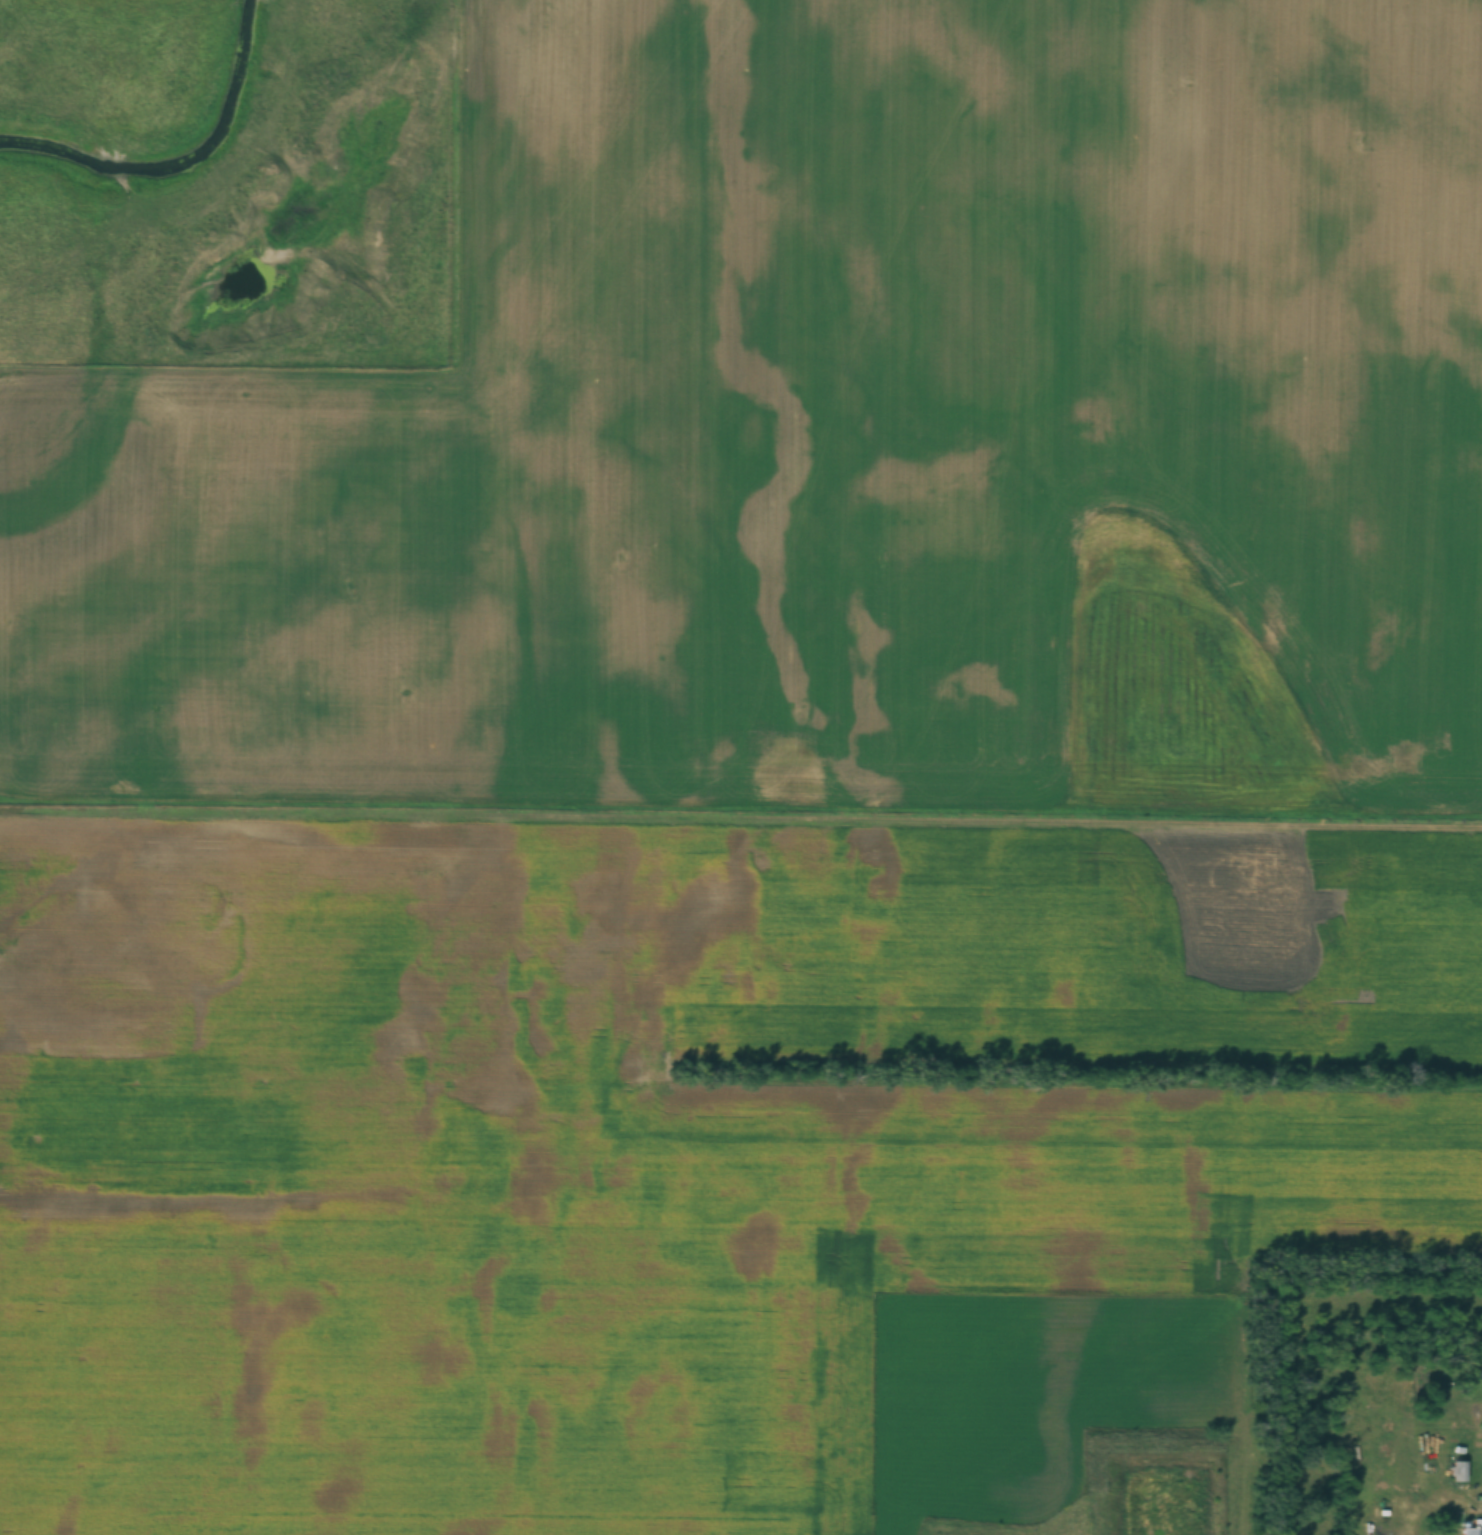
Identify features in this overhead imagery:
building: (1480, 1373)
building: (1457, 1471)
building: (1471, 1531)

